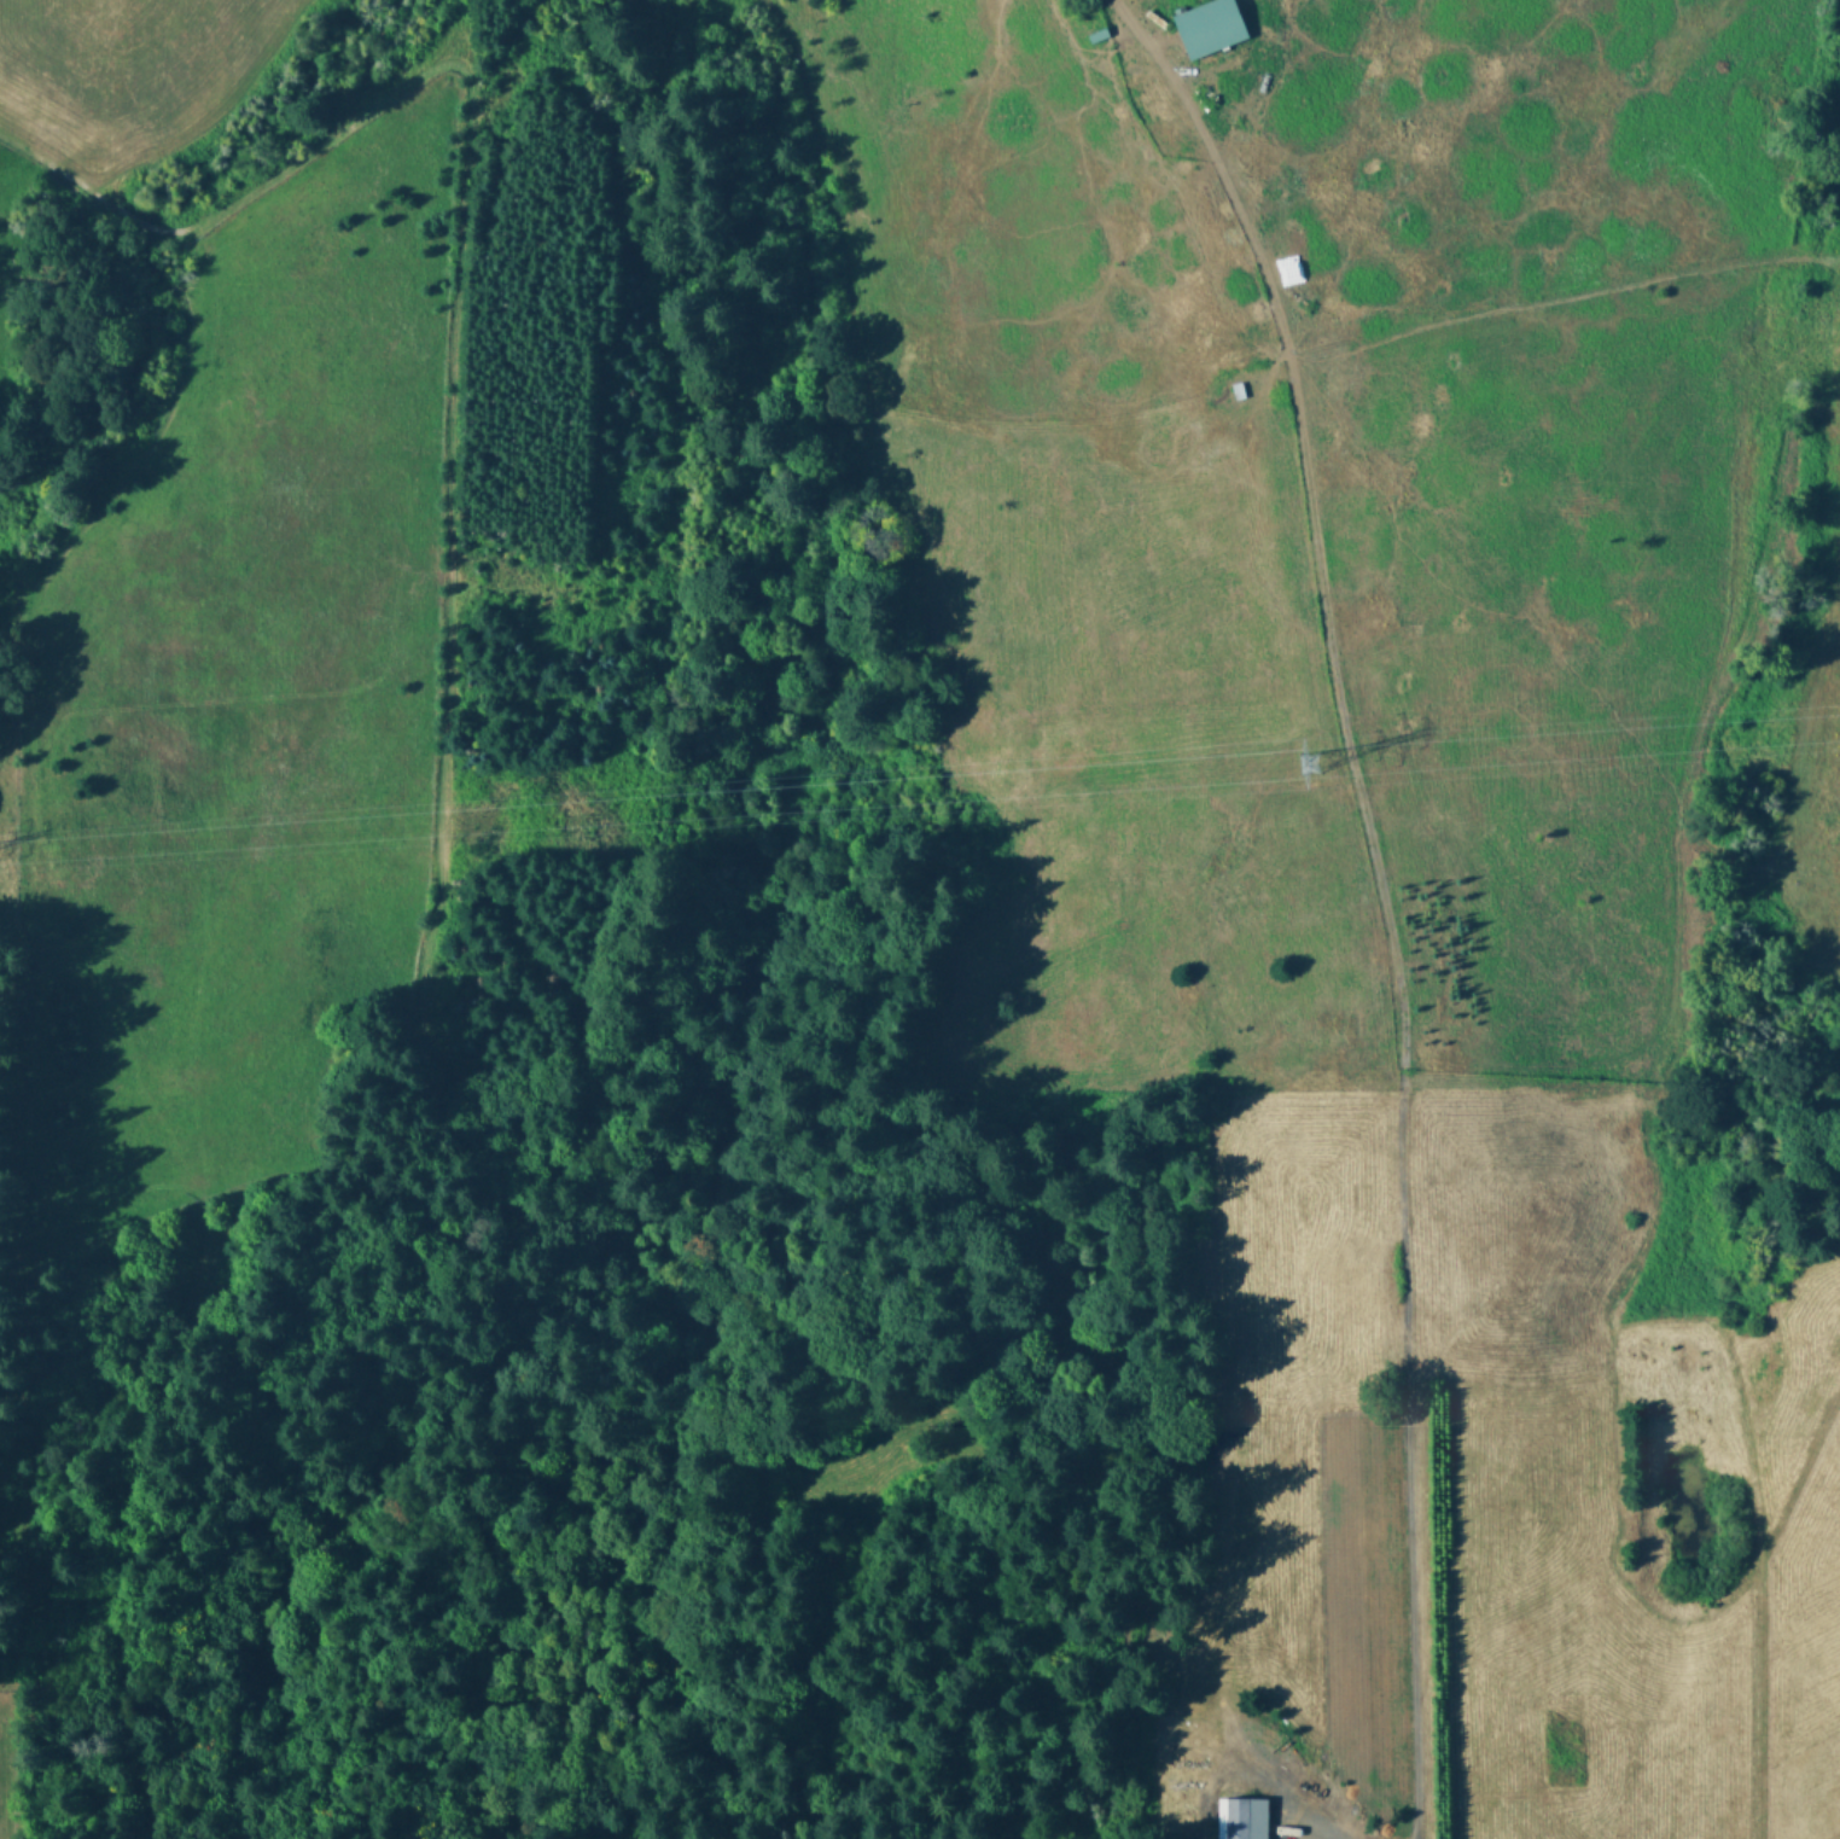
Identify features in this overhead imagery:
road: (1130, 25)
building: (1204, 27)
crop: (124, 93)
power tower: (1308, 758)
building: (1241, 1817)

